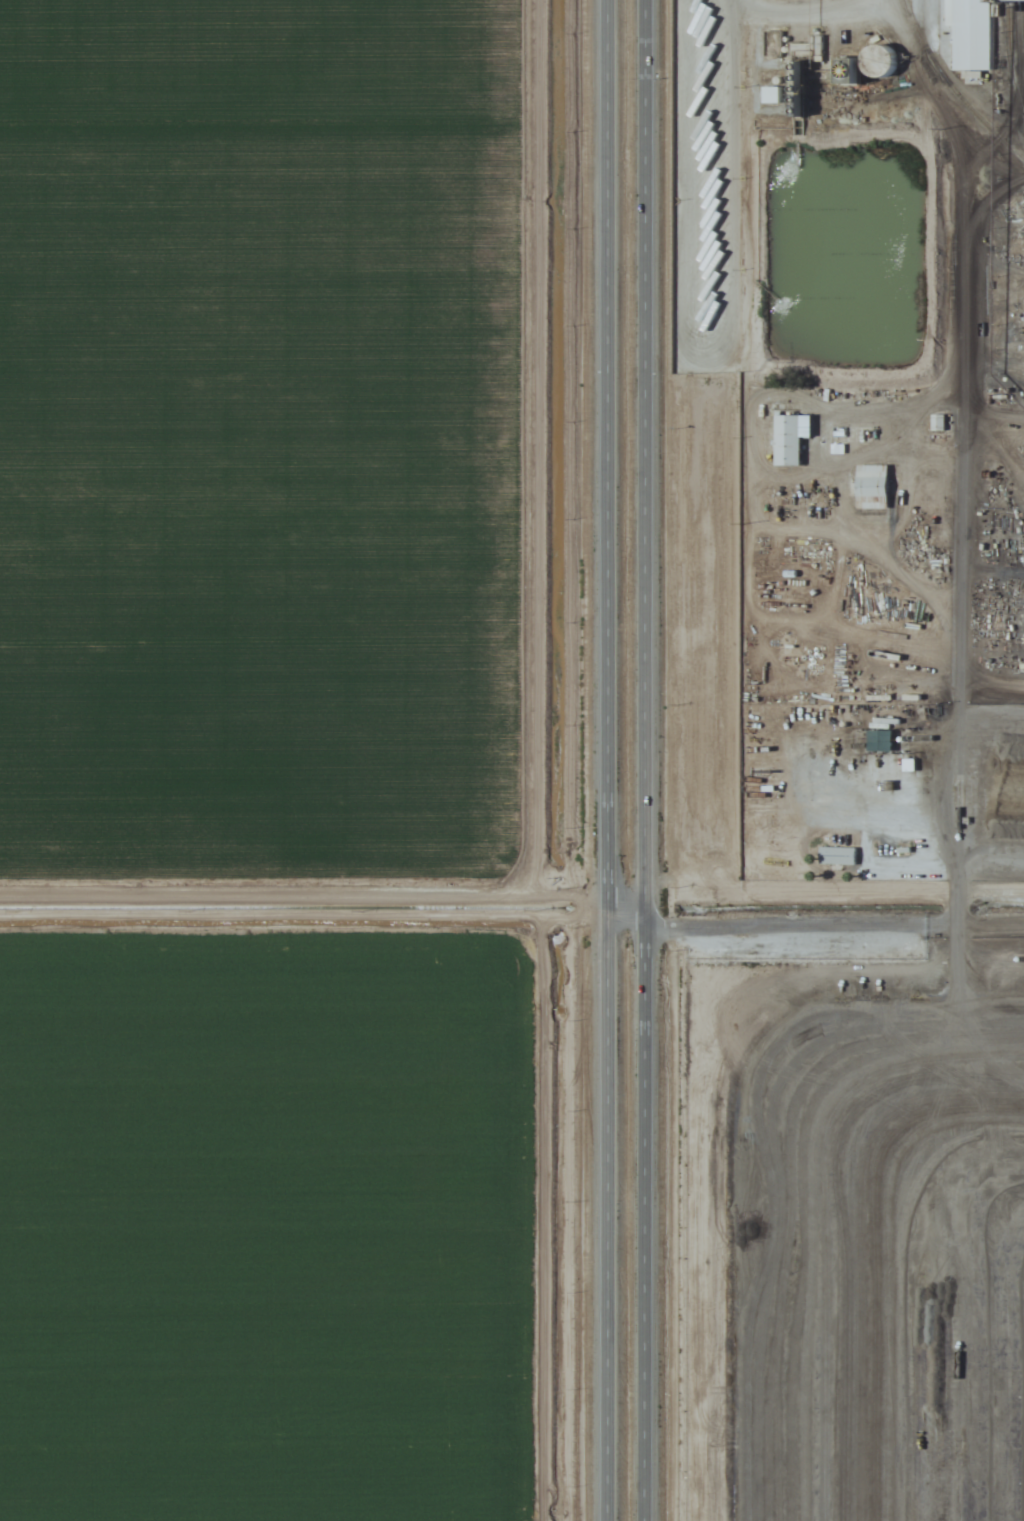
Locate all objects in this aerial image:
building: (969, 33)
building: (772, 43)
building: (864, 66)
building: (772, 95)
railway: (920, 143)
building: (937, 422)
building: (787, 440)
building: (872, 487)
road: (599, 760)
road: (641, 760)
building: (837, 856)

